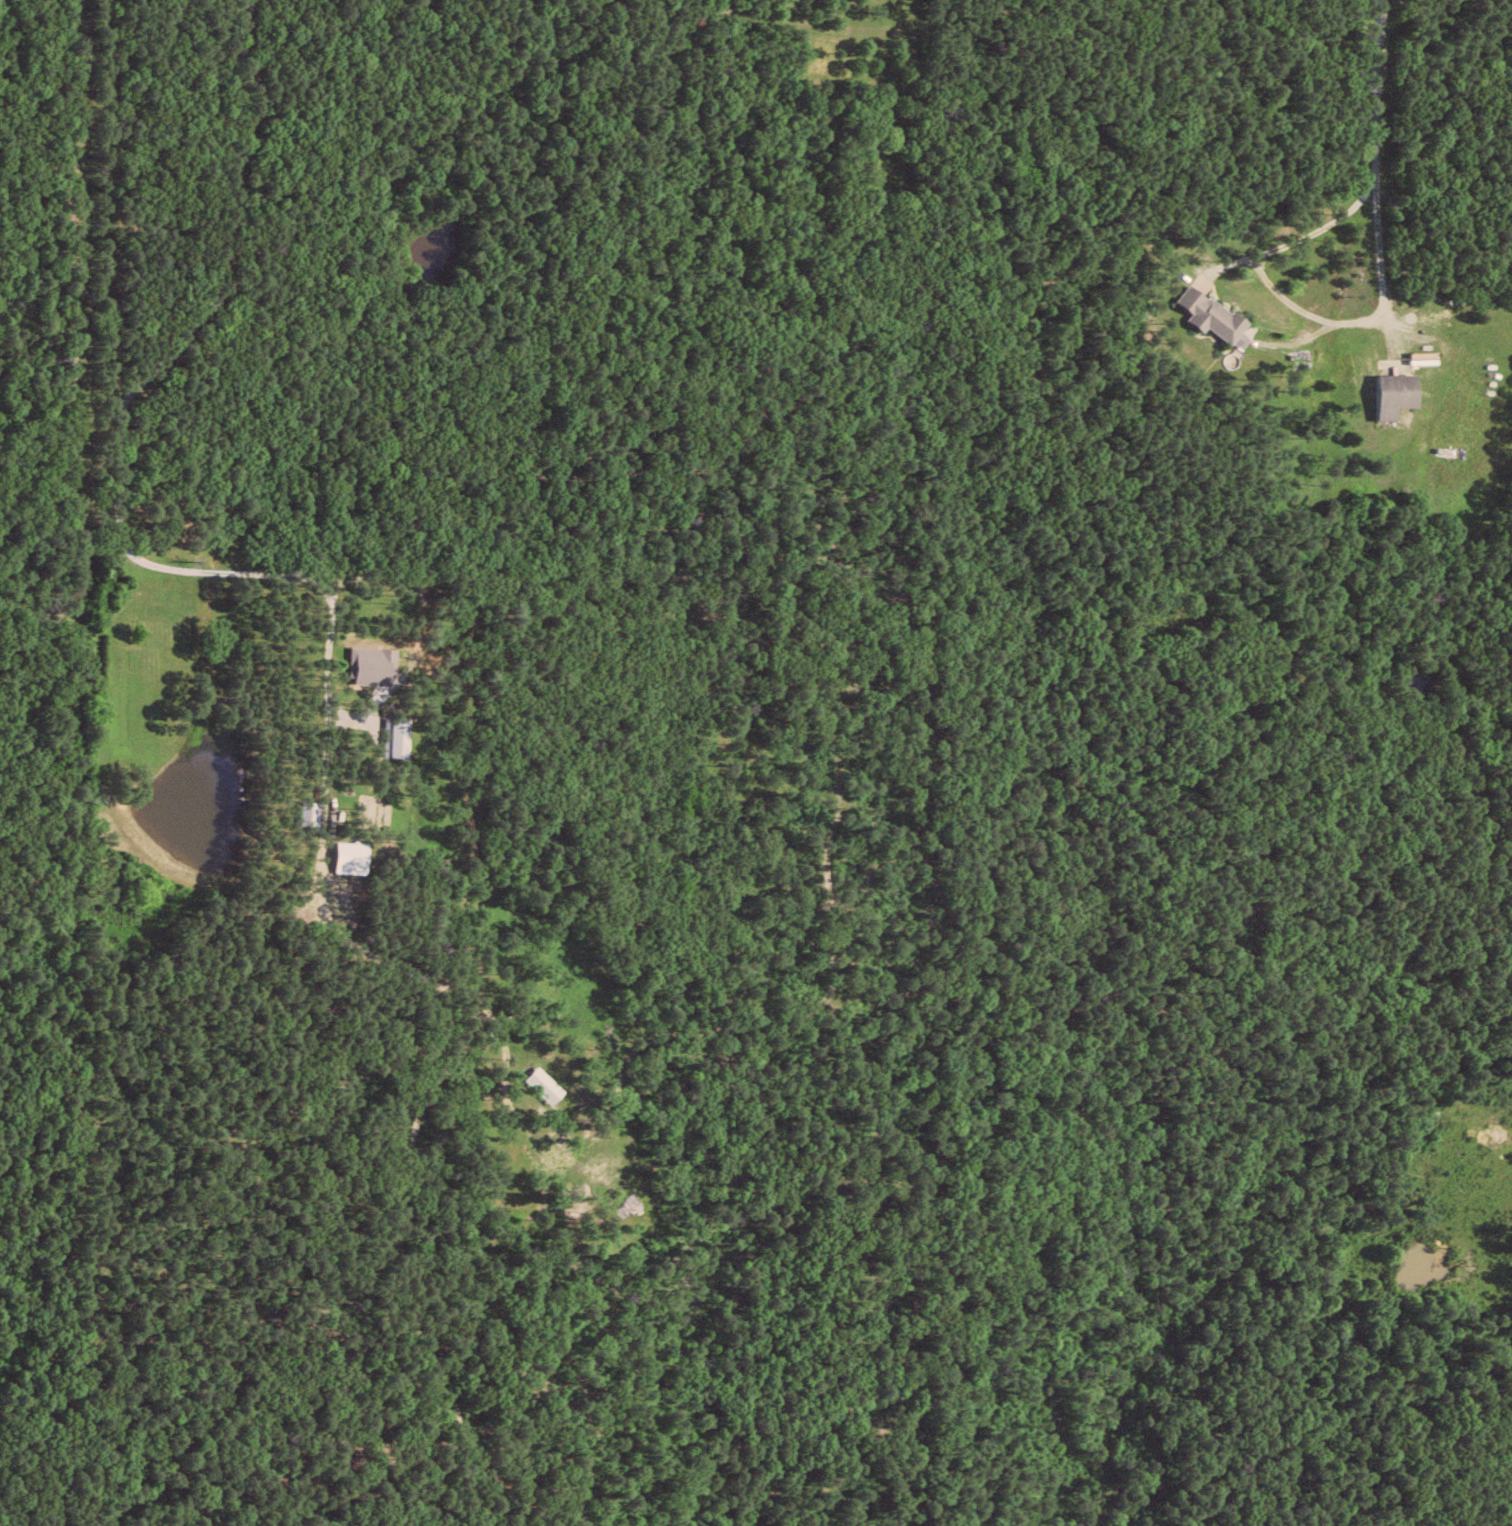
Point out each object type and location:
building: (1216, 315)
building: (1397, 393)
building: (374, 663)
building: (399, 737)
building: (311, 813)
building: (352, 857)
building: (547, 1084)

